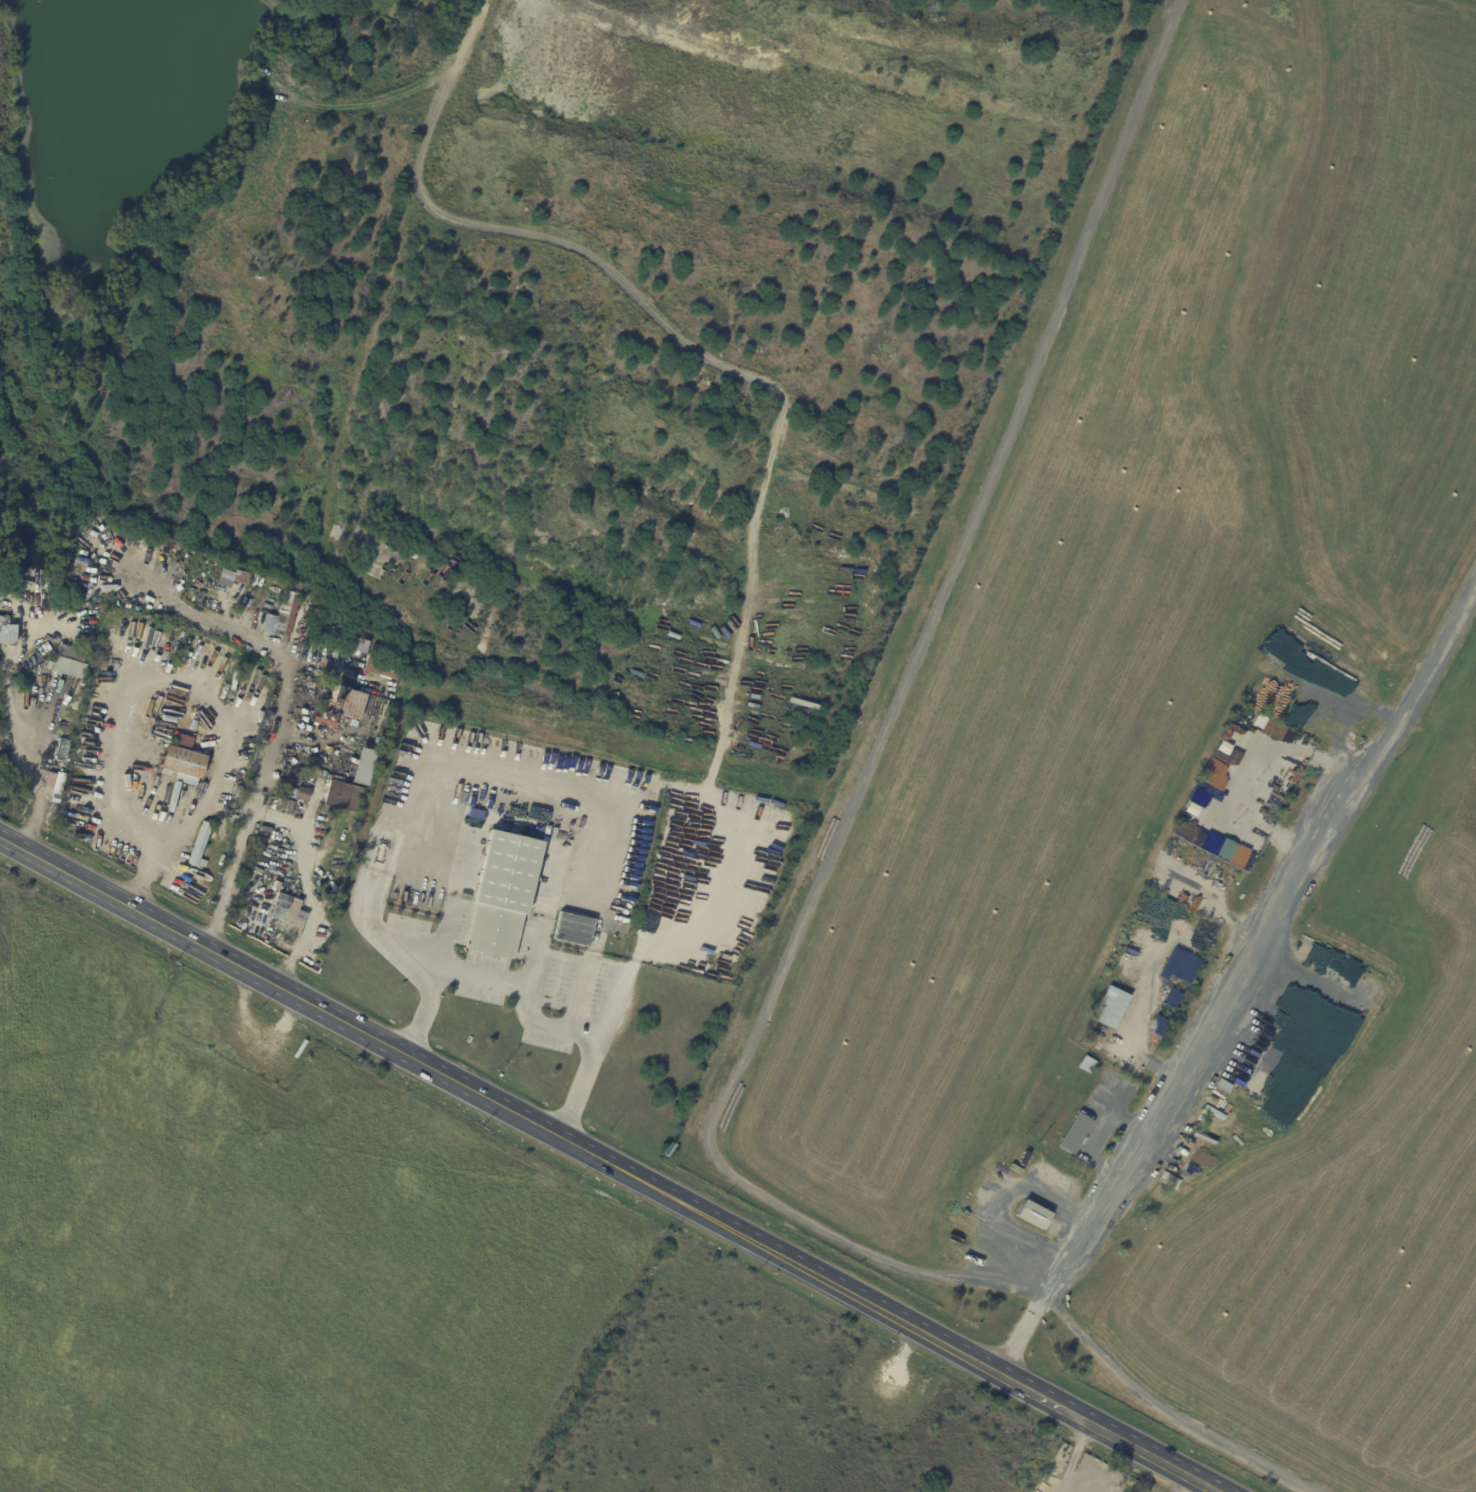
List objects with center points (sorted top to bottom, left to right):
building: (241, 577)
road: (174, 596)
building: (283, 616)
building: (356, 644)
road: (907, 660)
building: (208, 662)
building: (69, 667)
building: (383, 668)
road: (147, 675)
road: (1421, 676)
building: (345, 703)
building: (378, 742)
building: (61, 749)
building: (183, 762)
building: (364, 767)
landfill: (1189, 783)
building: (297, 794)
building: (339, 797)
building: (286, 805)
building: (235, 820)
building: (551, 835)
building: (200, 848)
building: (1229, 850)
building: (465, 894)
building: (504, 895)
building: (288, 916)
building: (572, 935)
road: (458, 968)
road: (1306, 988)
building: (1112, 1008)
road: (427, 1009)
building: (1099, 1046)
building: (302, 1048)
road: (595, 1052)
building: (1088, 1065)
building: (290, 1068)
road: (1175, 1069)
building: (1225, 1087)
building: (1078, 1134)
building: (1025, 1159)
road: (610, 1164)
building: (1017, 1169)
building: (1119, 1177)
building: (1034, 1215)
road: (1094, 1347)
road: (1075, 1456)

